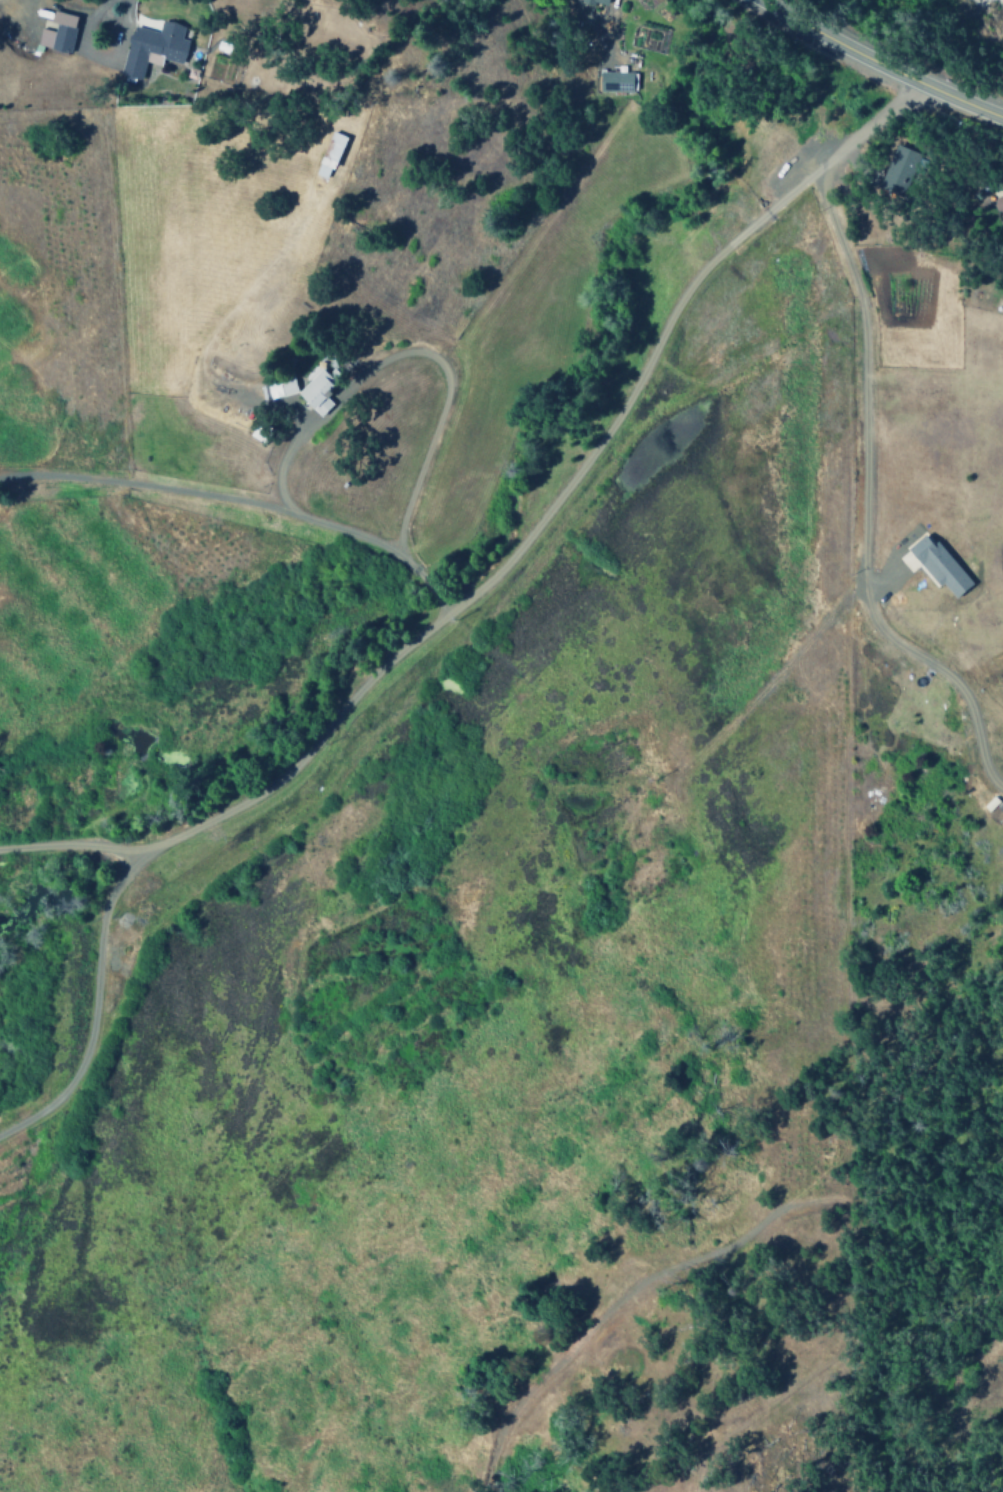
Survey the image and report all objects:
building: (601, 1)
road: (96, 11)
building: (57, 33)
building: (152, 48)
road: (881, 63)
building: (616, 81)
building: (327, 156)
building: (896, 170)
road: (412, 352)
building: (318, 391)
road: (240, 501)
road: (867, 506)
building: (939, 565)
road: (441, 615)
road: (65, 845)
road: (779, 1212)

